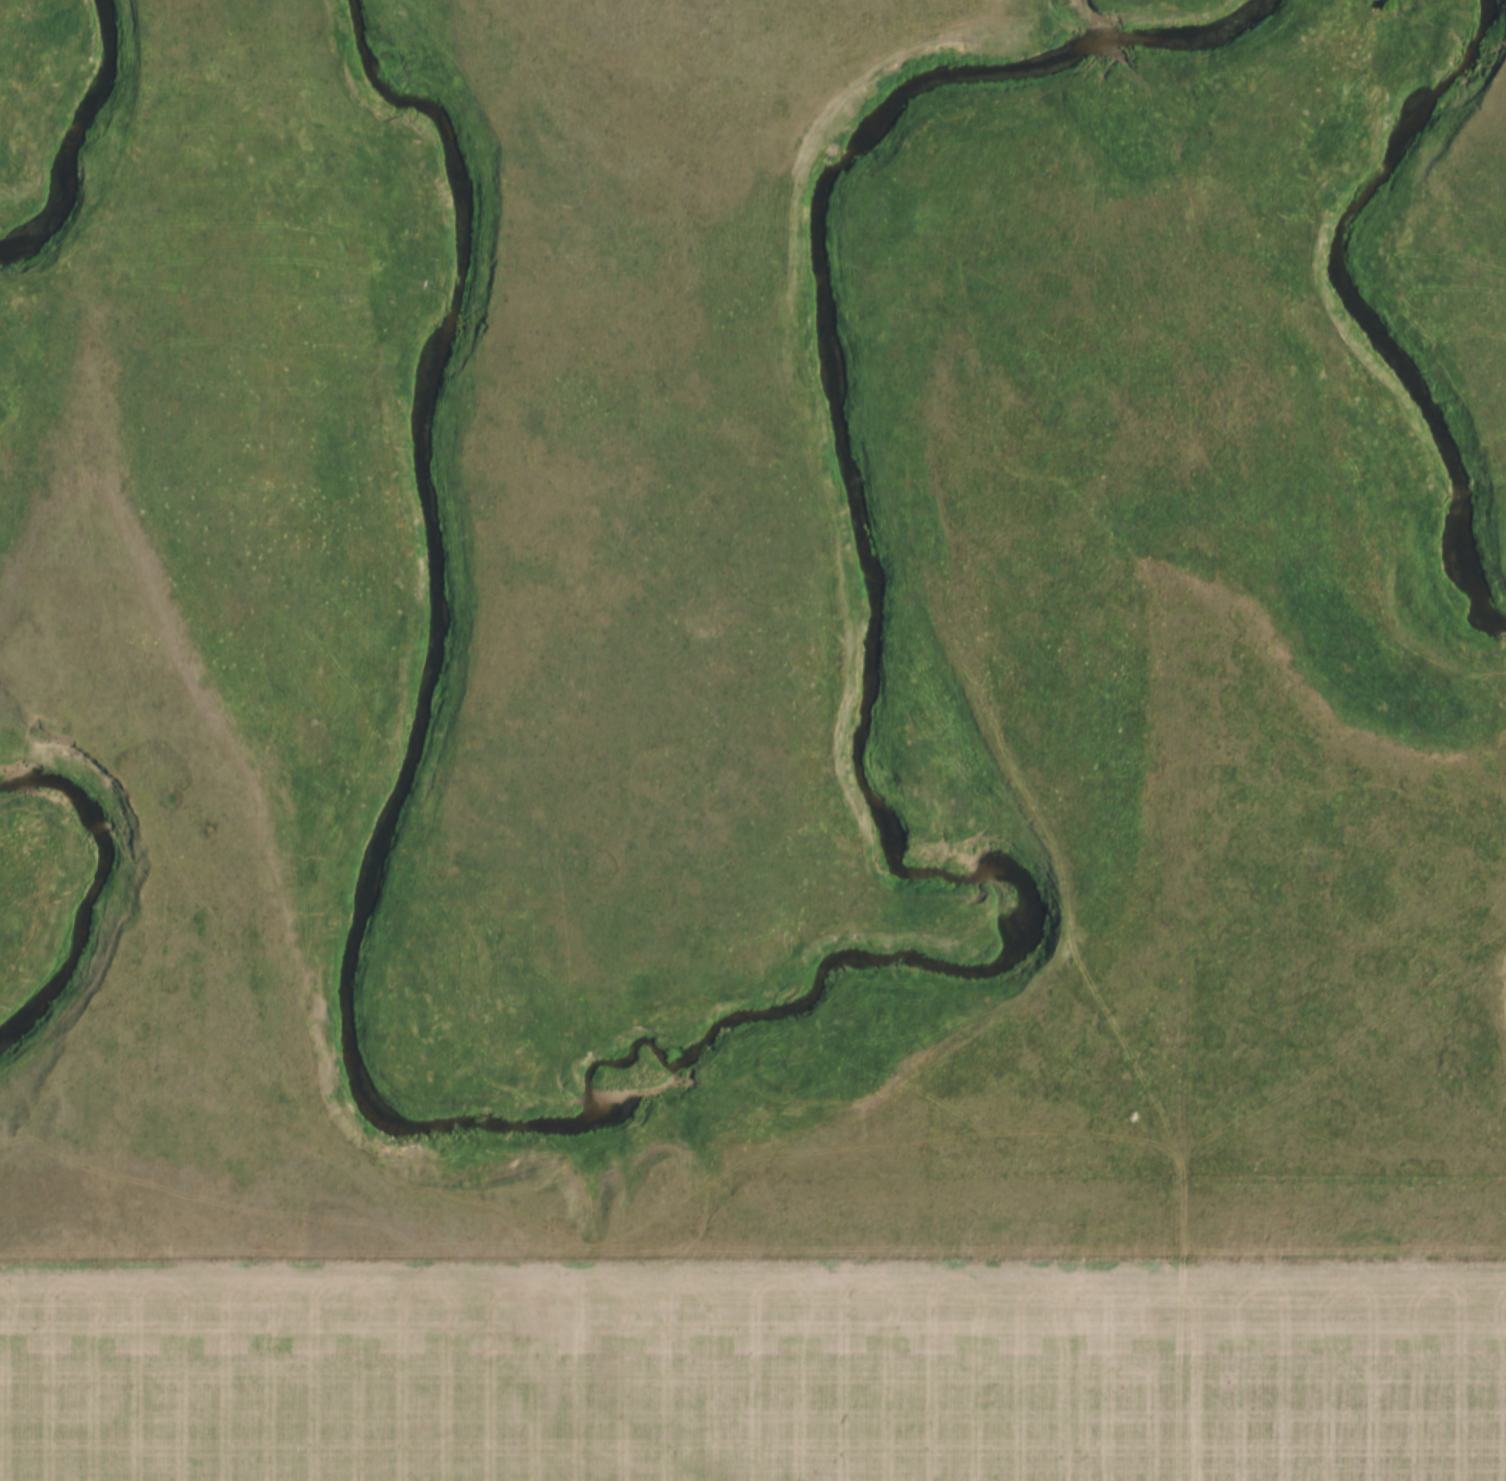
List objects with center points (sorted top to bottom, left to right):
road: (1189, 1343)

